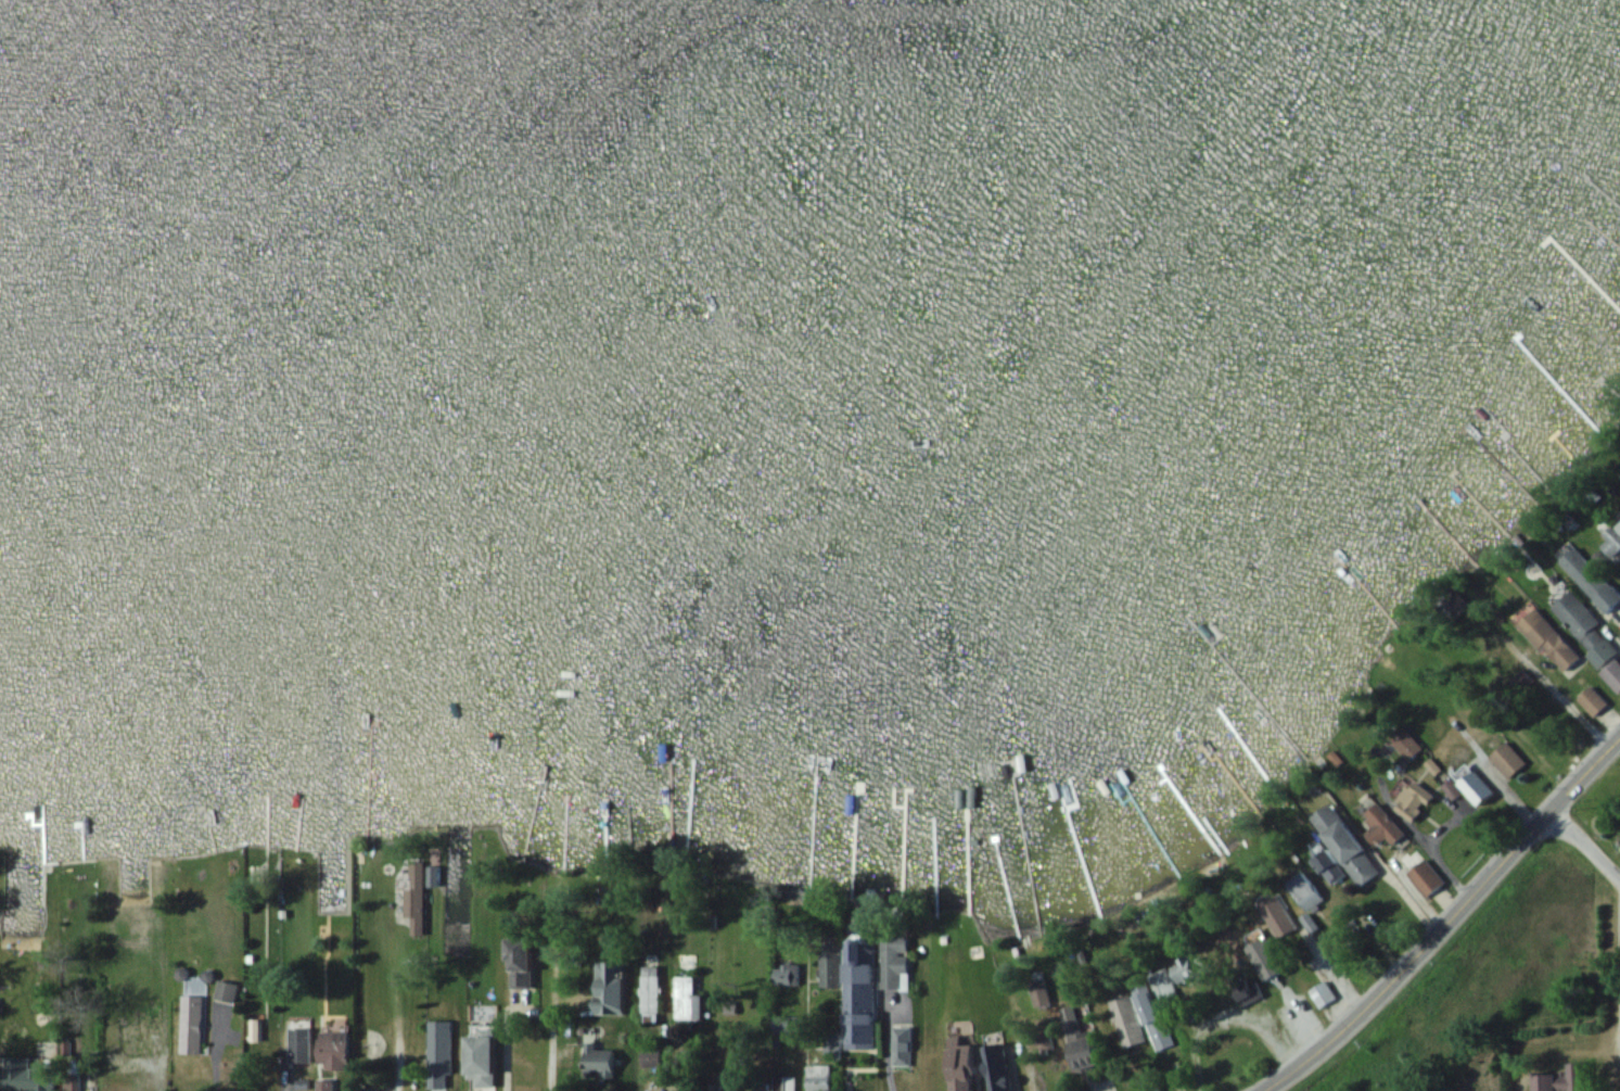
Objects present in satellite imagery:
building: (1619, 527)
building: (1592, 580)
building: (1587, 631)
building: (1551, 640)
building: (1613, 674)
building: (1594, 701)
building: (1509, 760)
building: (1477, 790)
building: (1414, 802)
building: (1386, 826)
building: (1347, 843)
road: (1584, 848)
building: (1334, 866)
building: (1427, 878)
building: (1308, 891)
building: (416, 913)
building: (1279, 917)
road: (1445, 921)
building: (523, 963)
building: (895, 963)
building: (830, 966)
building: (1189, 969)
building: (787, 975)
building: (1164, 984)
road: (541, 986)
building: (612, 988)
building: (650, 989)
building: (227, 992)
building: (862, 995)
building: (1323, 995)
building: (688, 1001)
building: (1157, 1020)
building: (1127, 1022)
building: (192, 1025)
building: (441, 1028)
building: (140, 1031)
building: (832, 1043)
building: (301, 1046)
building: (335, 1048)
building: (1088, 1050)
road: (888, 1060)
building: (484, 1062)
building: (601, 1062)
building: (965, 1065)
building: (998, 1068)
road: (399, 1071)
building: (819, 1078)
building: (1566, 1079)
building: (33, 1082)
building: (1148, 1082)
building: (786, 1083)
building: (326, 1084)
building: (764, 1089)

